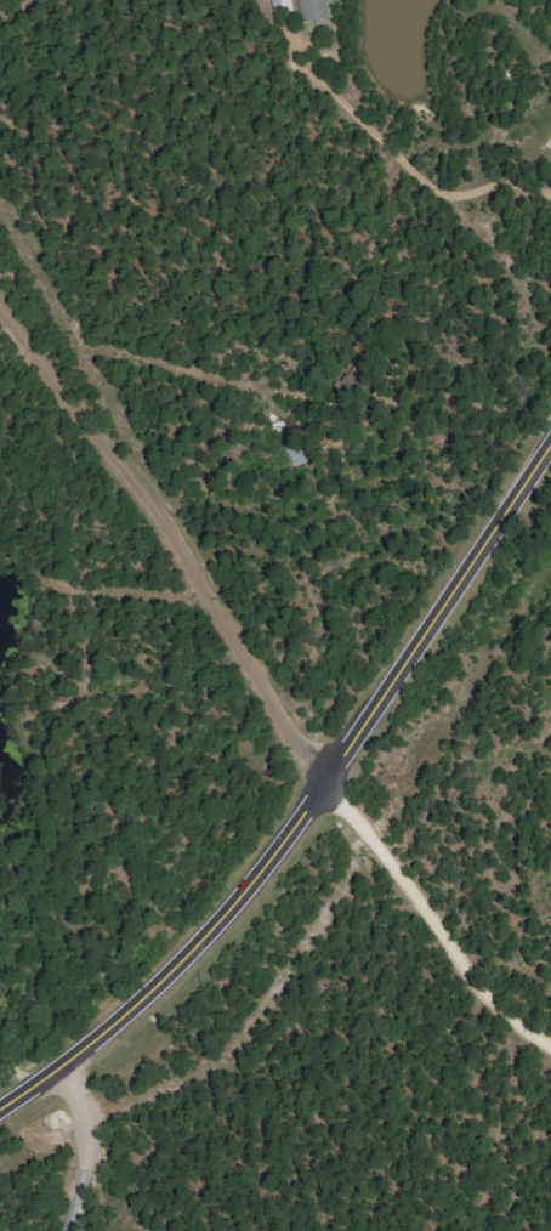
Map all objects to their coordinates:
building: (284, 6)
building: (318, 10)
road: (530, 237)
road: (174, 533)
road: (308, 802)
road: (433, 917)
road: (83, 1142)

